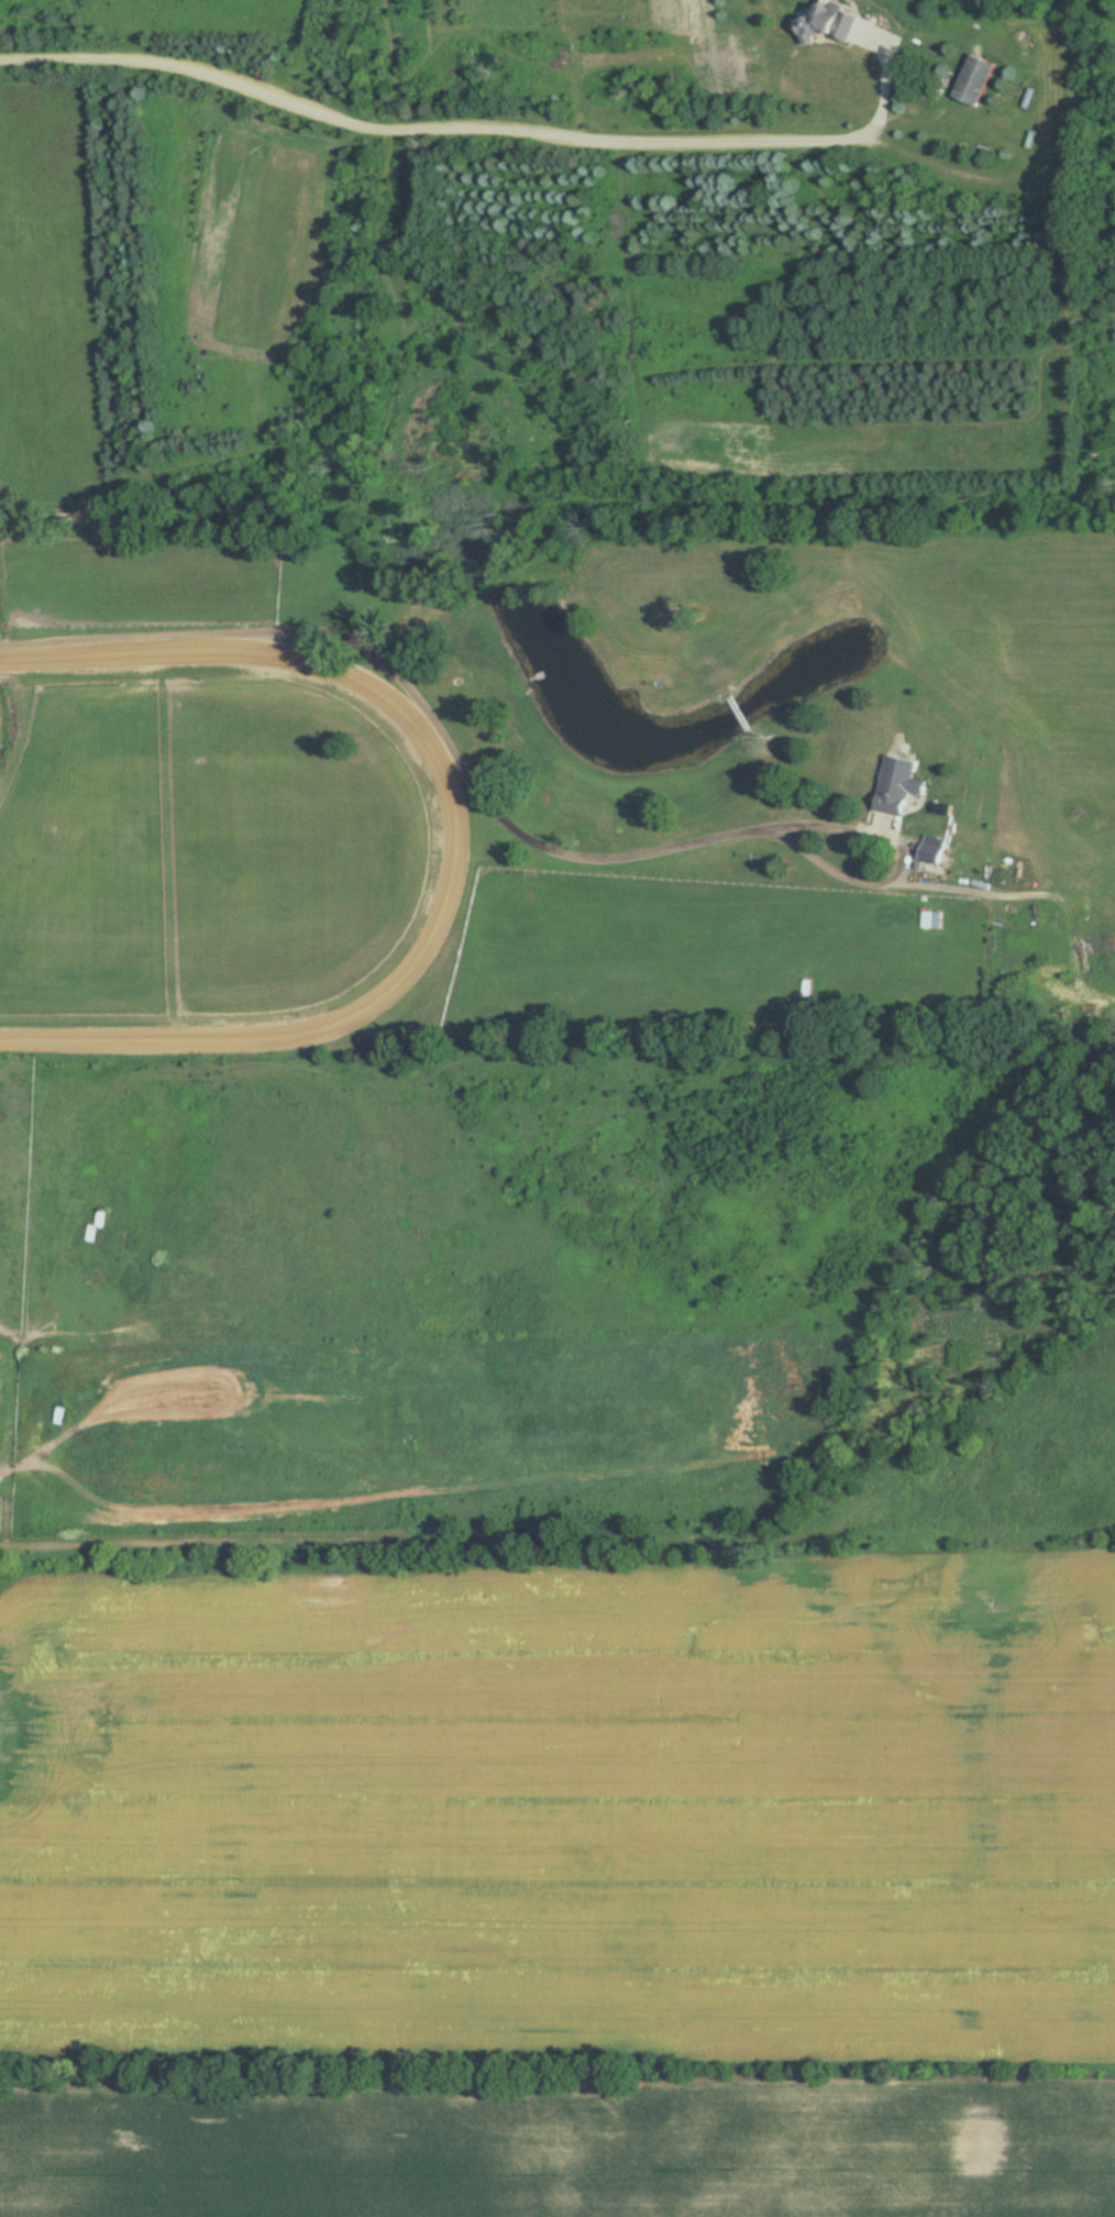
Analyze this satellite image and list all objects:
building: (826, 22)
building: (972, 80)
road: (882, 91)
road: (418, 129)
road: (462, 761)
building: (896, 784)
track: (210, 843)
road: (908, 881)

